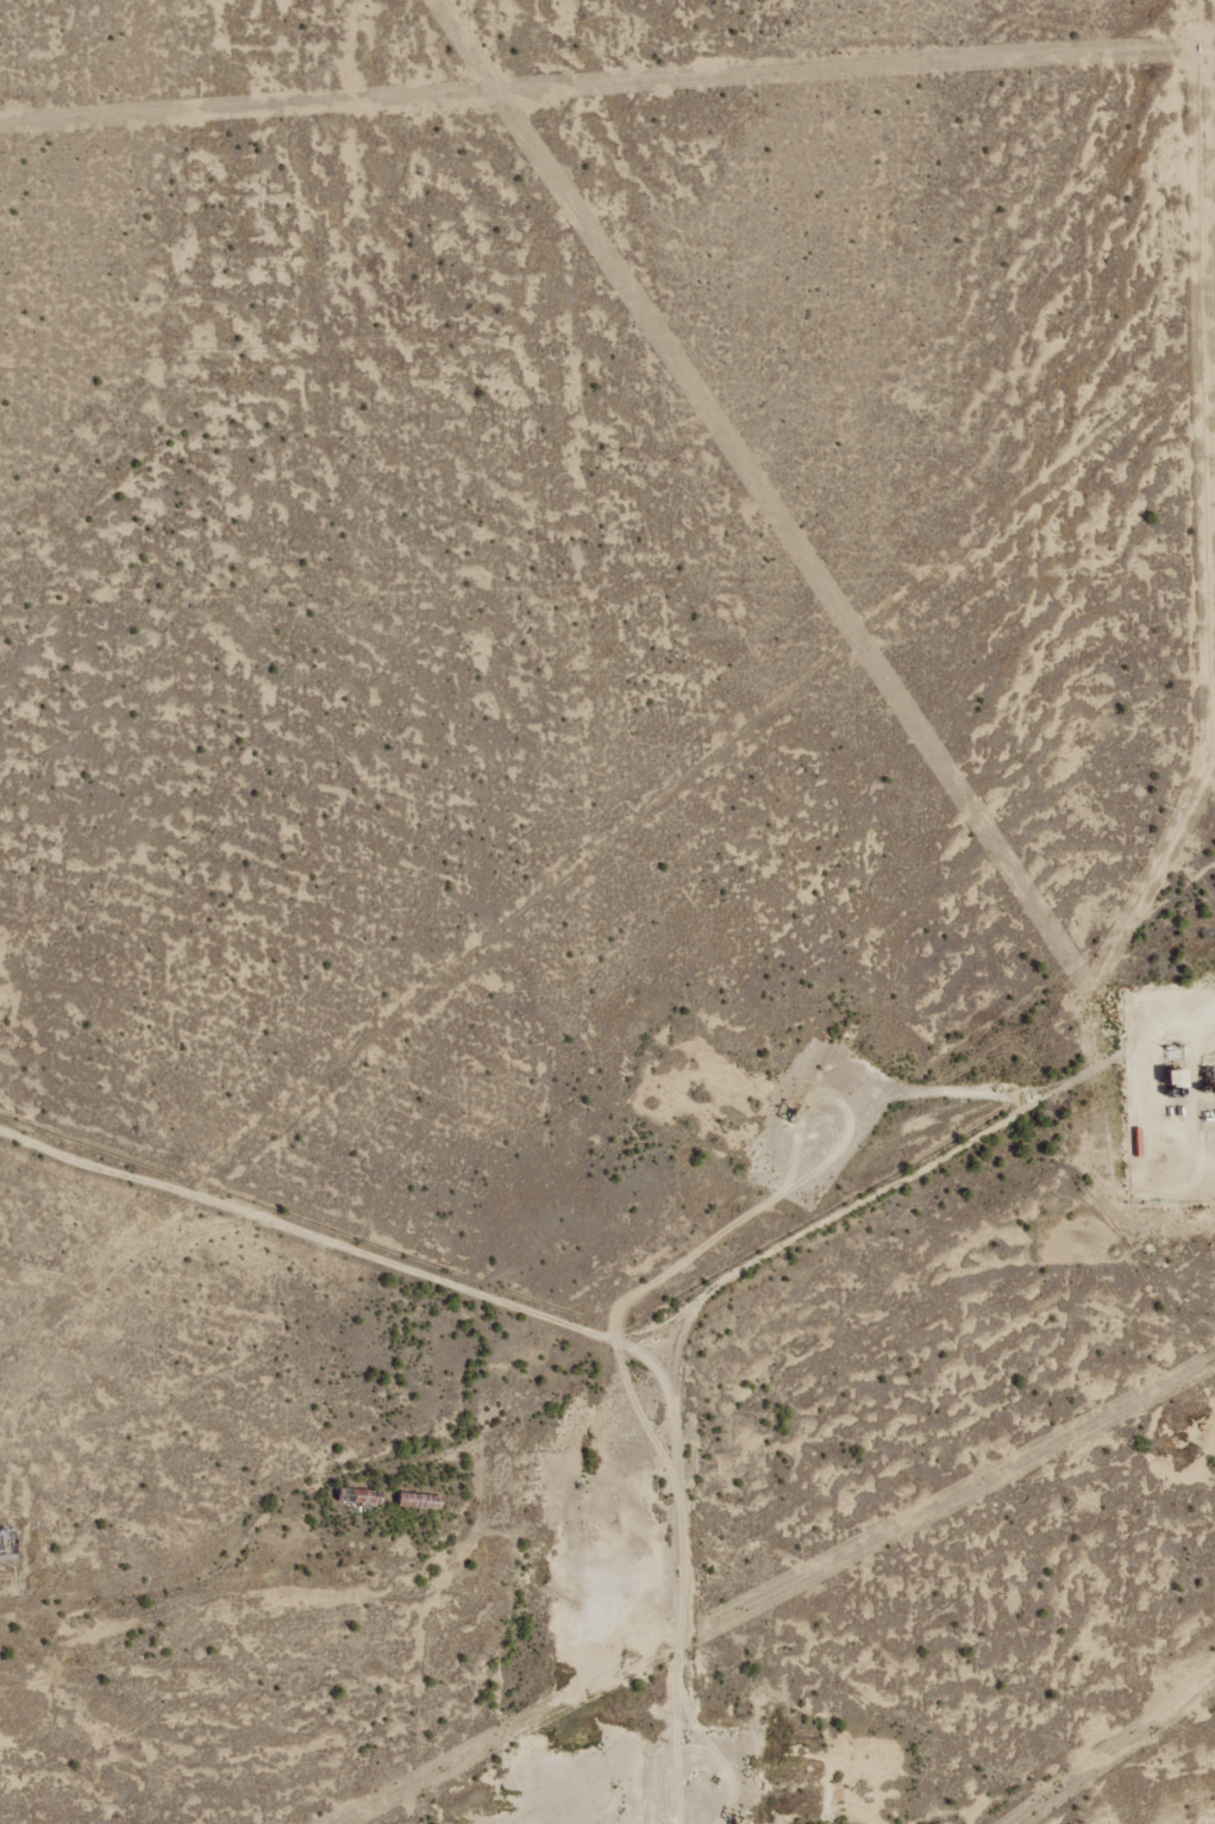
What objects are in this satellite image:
road: (697, 1242)
road: (321, 1412)

